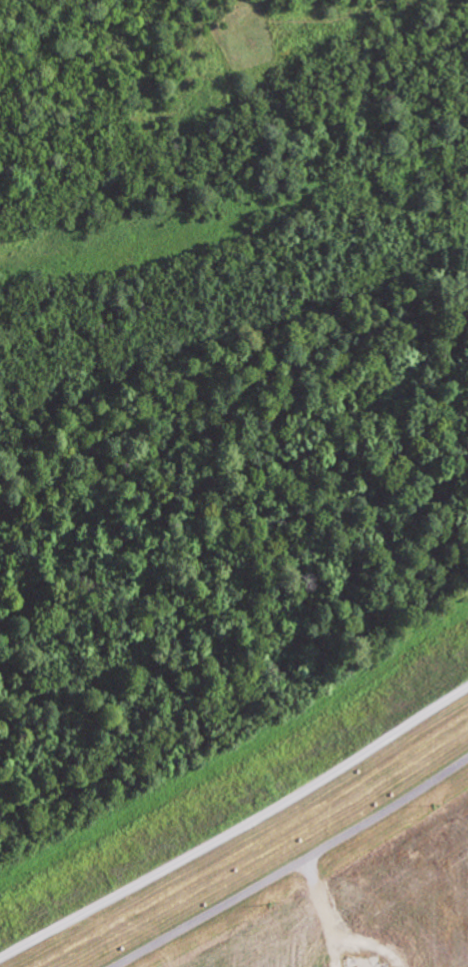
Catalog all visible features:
road: (236, 830)
road: (292, 865)

